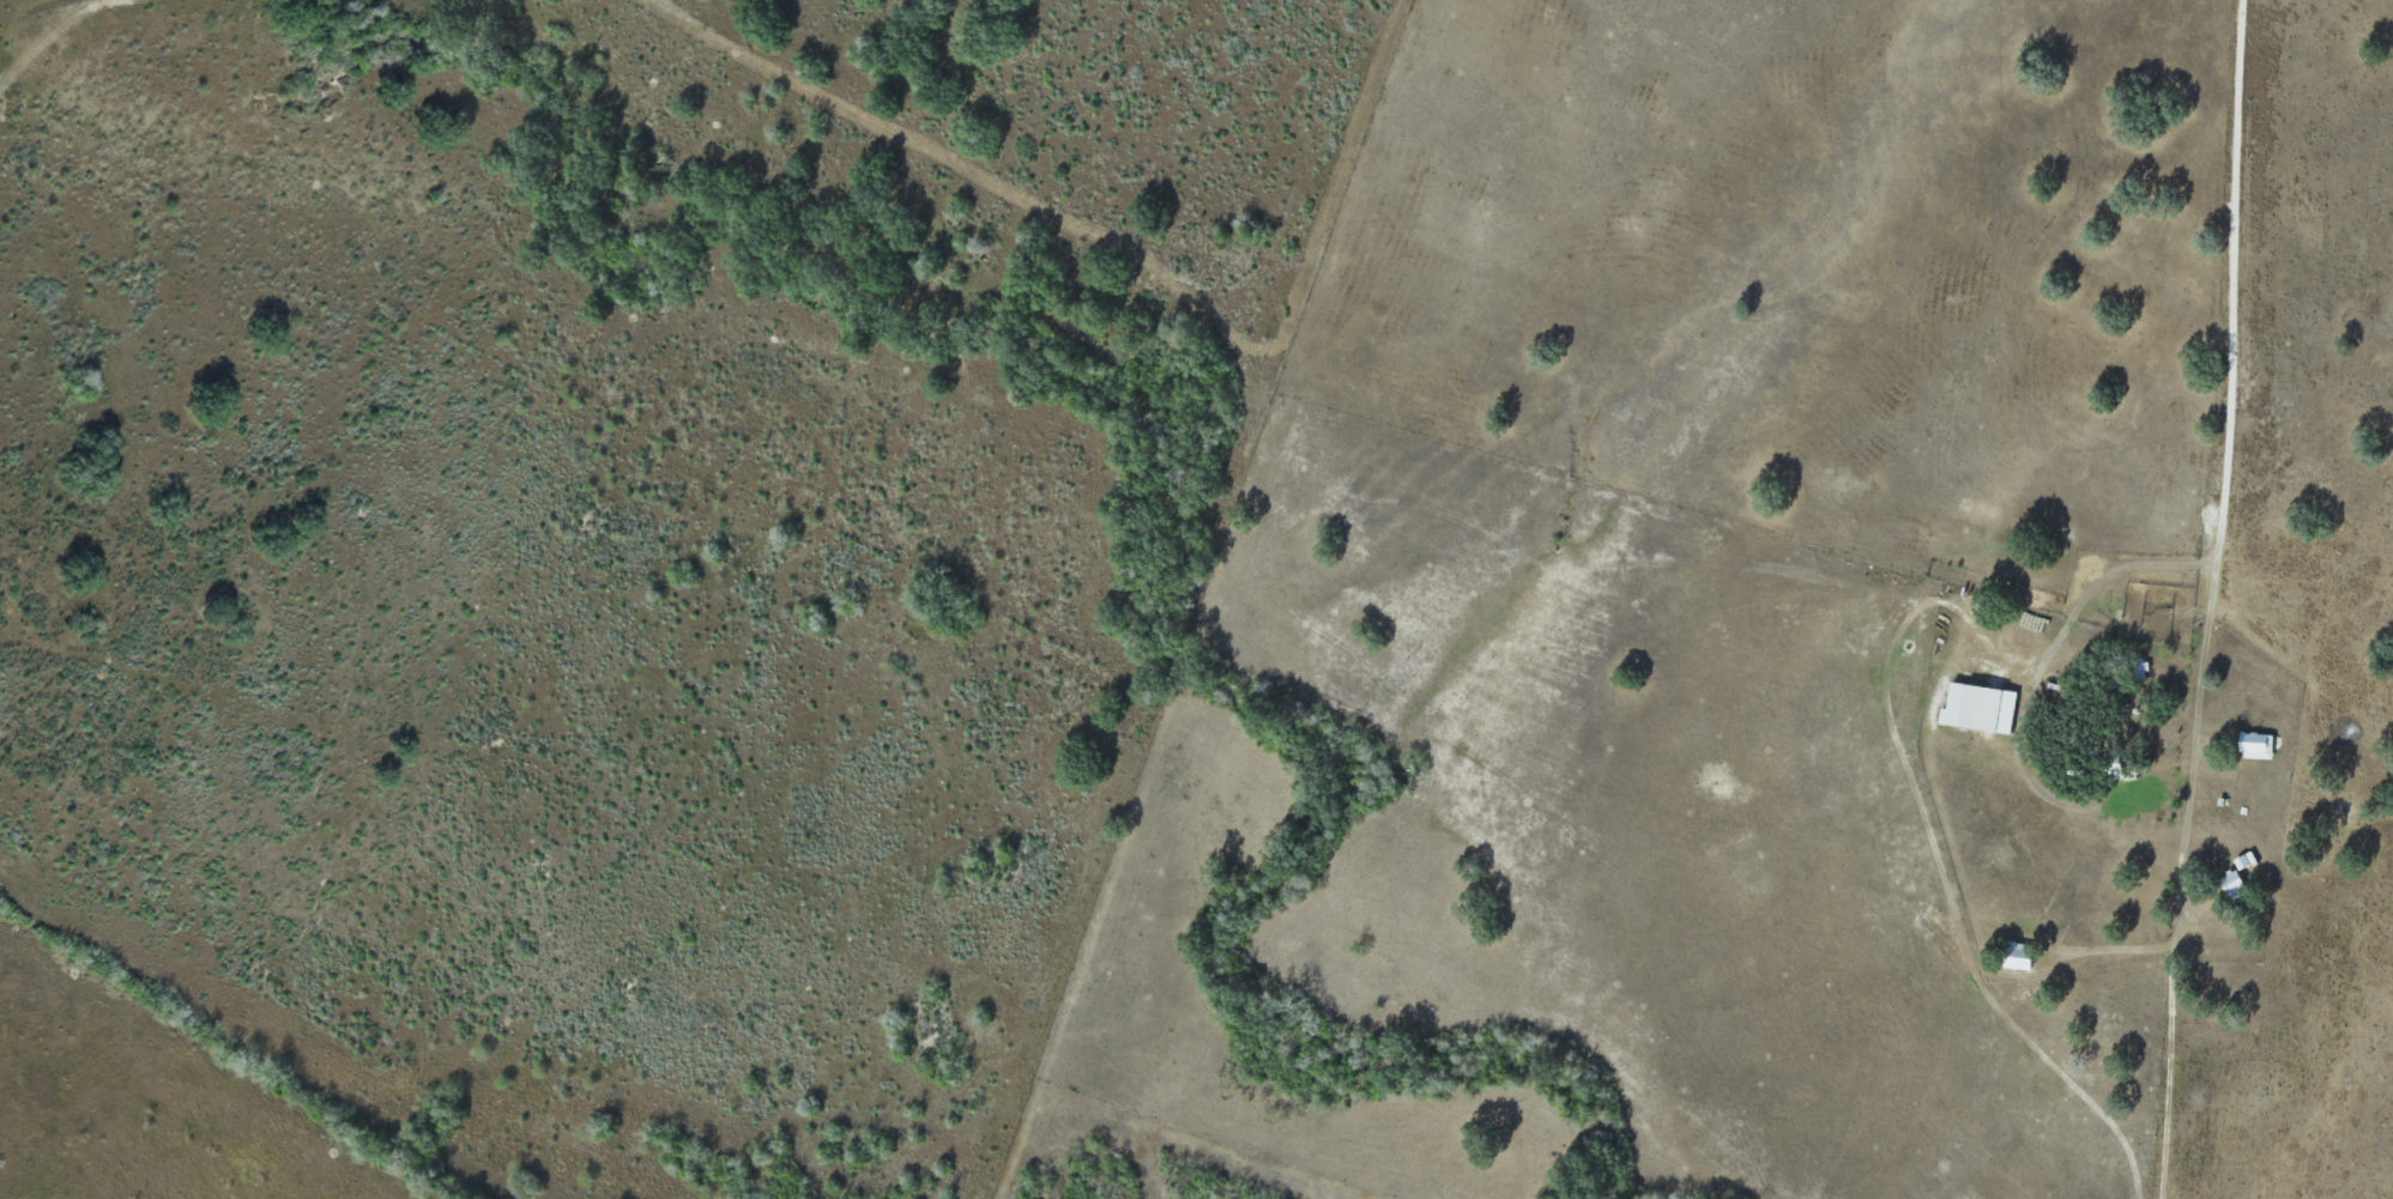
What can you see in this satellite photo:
road: (2231, 278)
building: (2137, 668)
building: (1977, 707)

